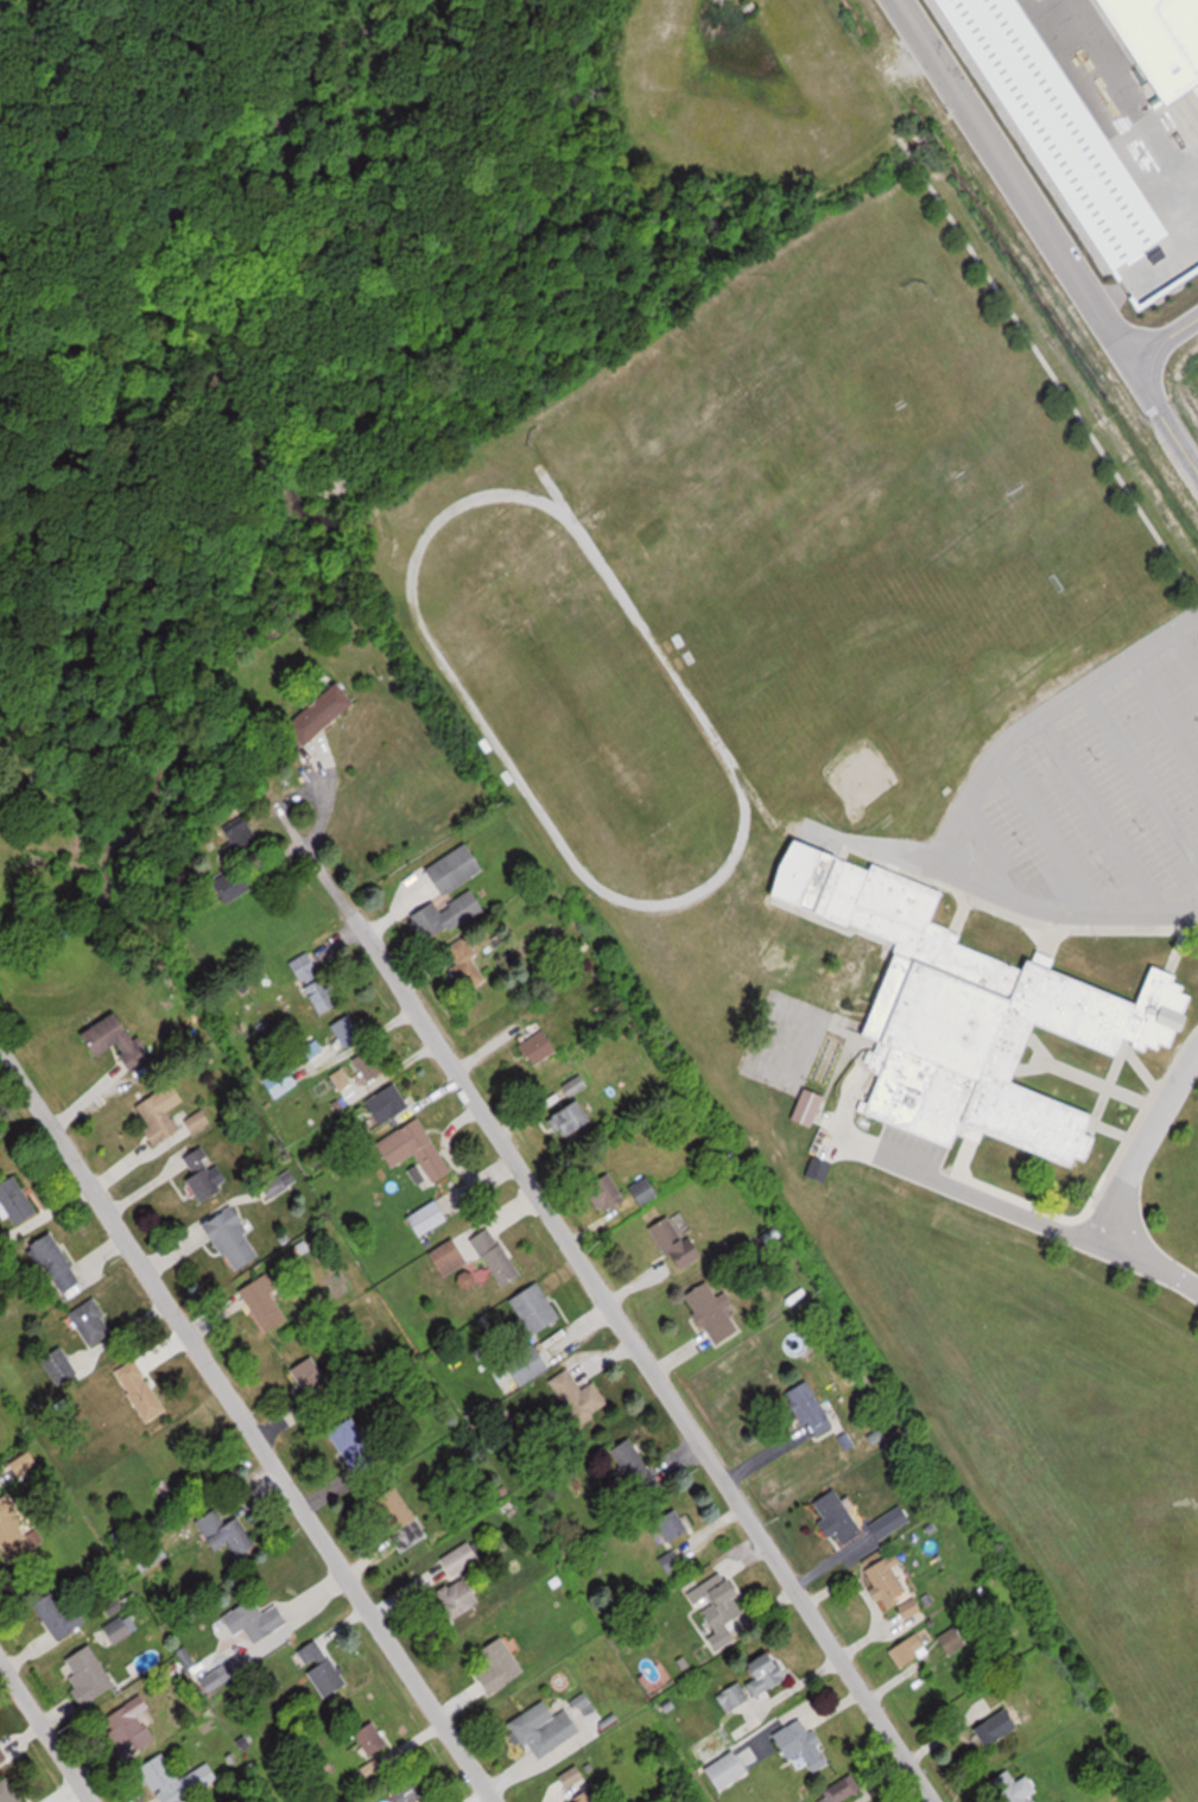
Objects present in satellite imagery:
building: (1161, 42)
building: (692, 84)
building: (1057, 125)
road: (1004, 179)
road: (1162, 328)
road: (1160, 412)
park: (860, 507)
road: (1189, 639)
building: (323, 712)
road: (969, 811)
building: (240, 833)
building: (457, 868)
building: (233, 886)
building: (448, 914)
building: (464, 965)
building: (313, 983)
building: (975, 1015)
building: (348, 1032)
building: (118, 1040)
building: (539, 1046)
building: (369, 1064)
building: (576, 1084)
building: (389, 1102)
building: (163, 1111)
building: (573, 1118)
building: (416, 1148)
building: (204, 1173)
road: (1129, 1175)
building: (645, 1189)
building: (607, 1191)
building: (17, 1200)
building: (427, 1217)
building: (234, 1238)
building: (678, 1243)
building: (450, 1256)
building: (497, 1256)
building: (58, 1264)
building: (266, 1303)
building: (537, 1308)
building: (715, 1312)
building: (91, 1322)
road: (644, 1359)
building: (528, 1364)
building: (316, 1383)
building: (142, 1390)
building: (579, 1396)
building: (811, 1409)
road: (246, 1426)
building: (635, 1462)
building: (839, 1516)
building: (883, 1525)
building: (668, 1528)
building: (15, 1530)
building: (227, 1533)
building: (152, 1554)
building: (462, 1556)
building: (887, 1581)
building: (459, 1595)
building: (721, 1605)
building: (912, 1607)
building: (62, 1611)
building: (256, 1619)
building: (952, 1639)
building: (909, 1649)
building: (500, 1663)
building: (223, 1673)
building: (88, 1674)
building: (768, 1675)
building: (328, 1676)
building: (734, 1698)
building: (132, 1725)
building: (999, 1727)
building: (546, 1730)
road: (45, 1732)
building: (370, 1736)
building: (804, 1746)
building: (2, 1755)
building: (731, 1768)
building: (177, 1778)
building: (1009, 1788)
building: (841, 1790)
building: (9, 1791)
building: (412, 1793)
building: (590, 1796)

